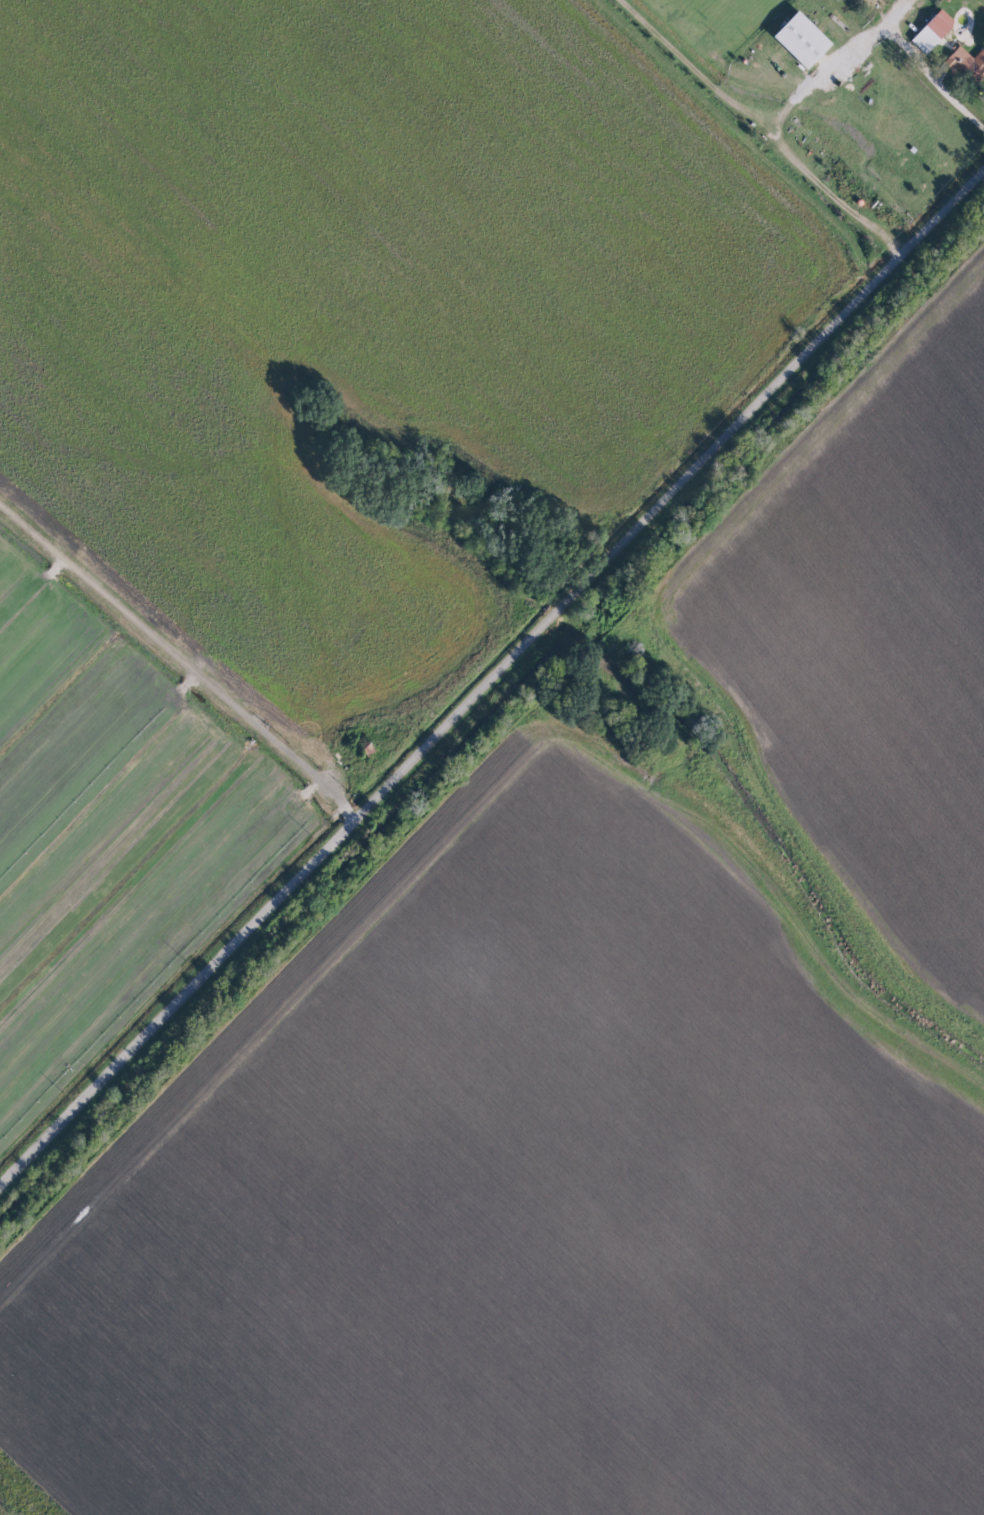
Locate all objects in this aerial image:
building: (799, 41)
building: (965, 65)
road: (934, 80)
road: (179, 661)
road: (492, 677)

